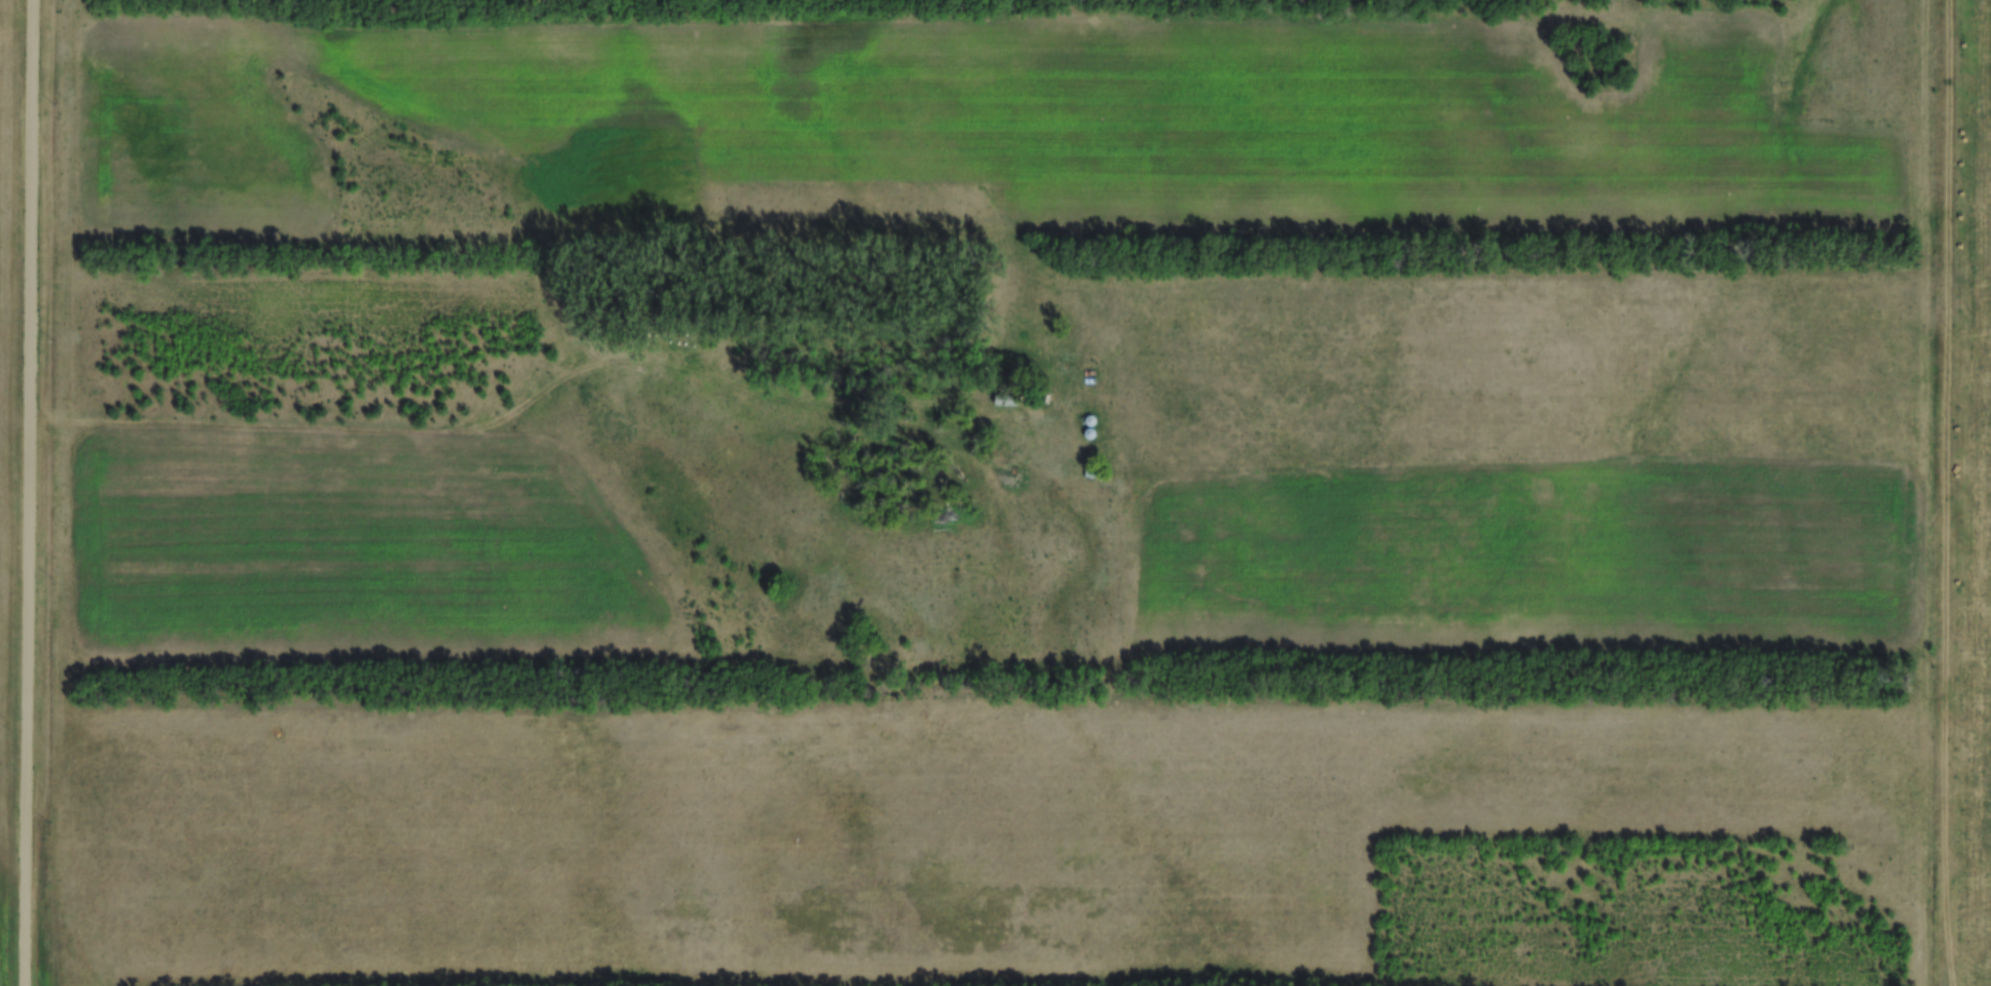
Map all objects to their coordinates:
road: (566, 384)
building: (1022, 434)
road: (1953, 480)
road: (31, 493)

